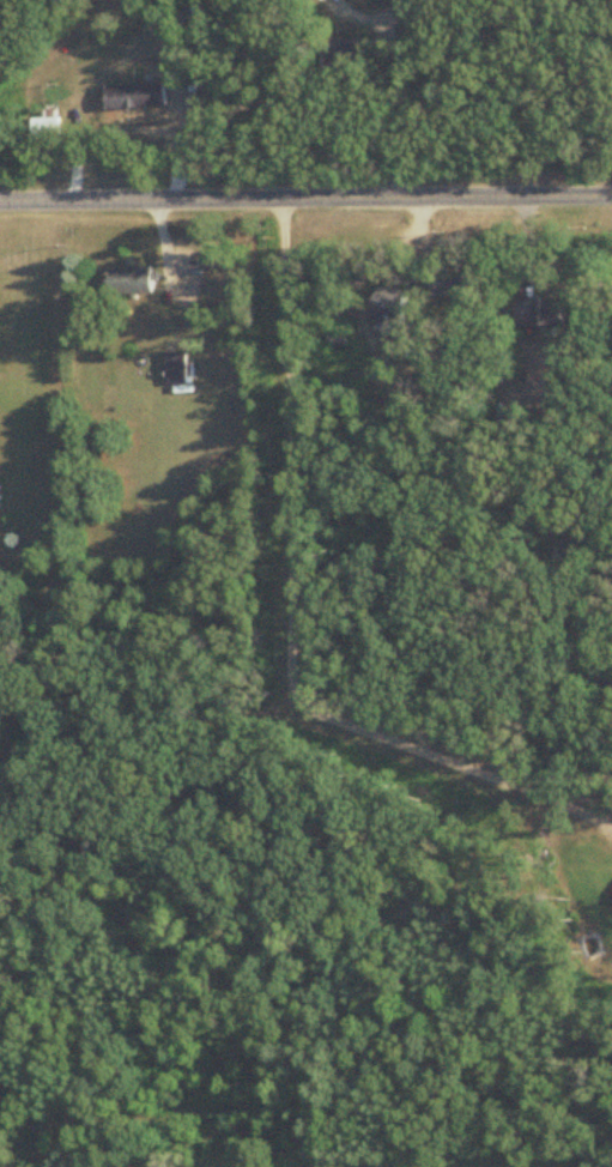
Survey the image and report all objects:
road: (411, 84)
building: (135, 95)
road: (305, 198)
building: (129, 279)
building: (394, 303)
building: (547, 313)
building: (175, 367)
road: (291, 613)

